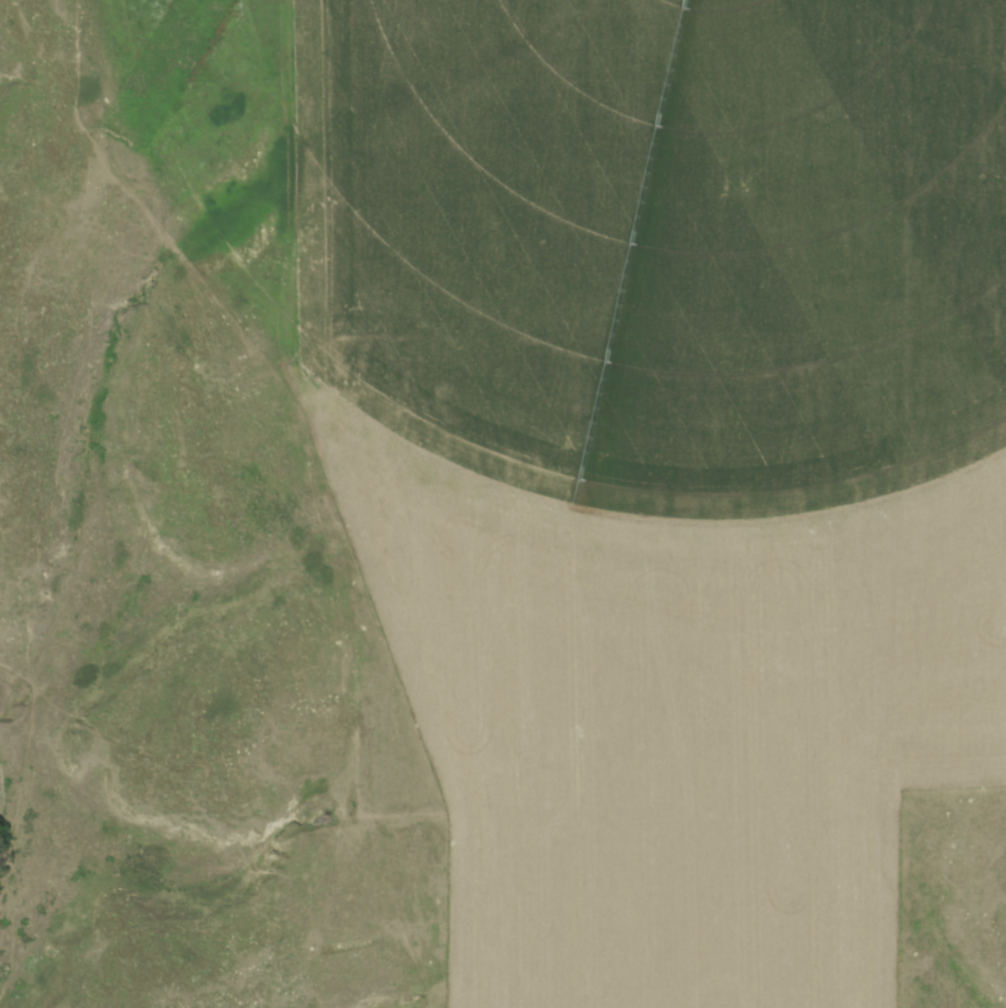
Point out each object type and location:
crop: (656, 239)

